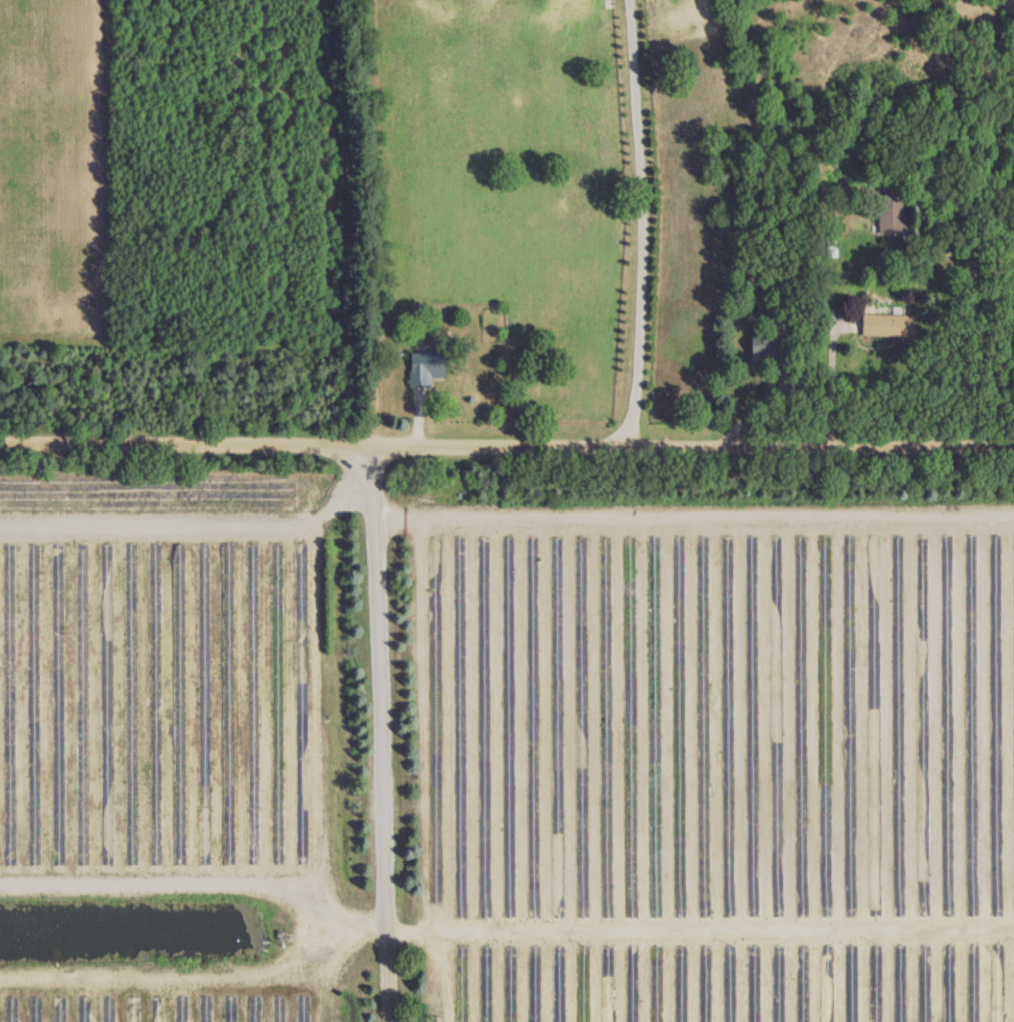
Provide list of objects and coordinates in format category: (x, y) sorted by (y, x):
building: (891, 215)
road: (651, 221)
building: (886, 325)
road: (817, 349)
building: (422, 369)
road: (507, 446)
road: (693, 509)
road: (196, 529)
road: (378, 735)
road: (698, 935)

